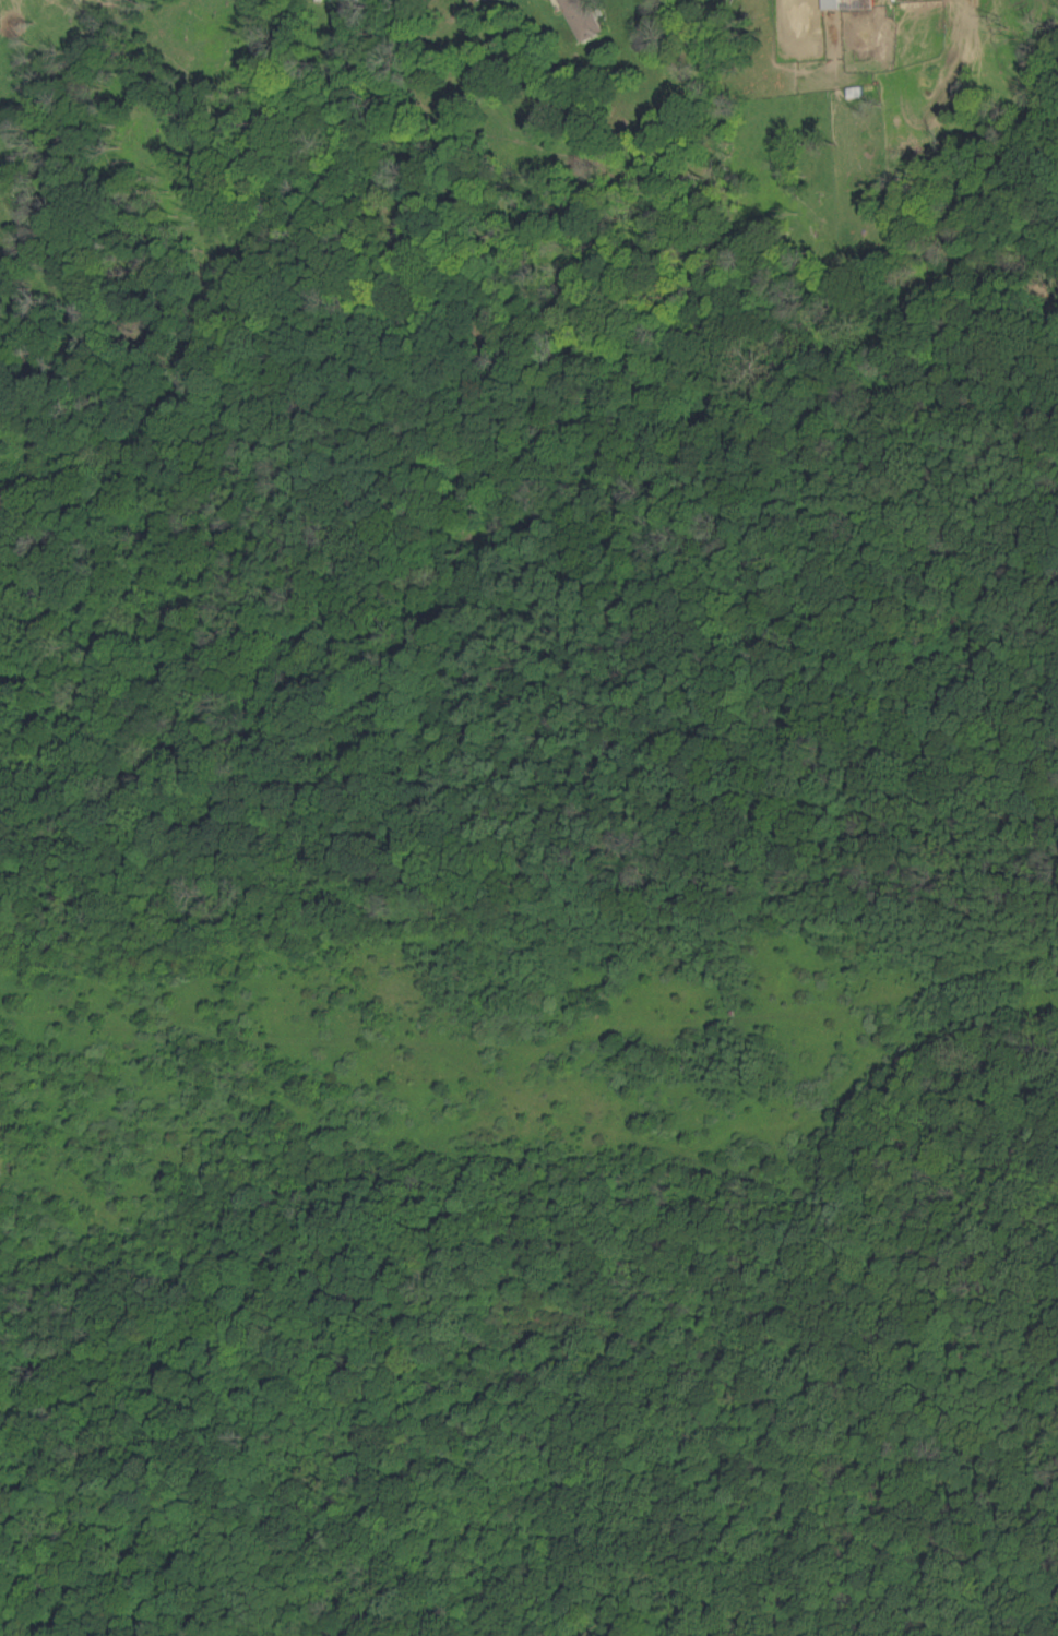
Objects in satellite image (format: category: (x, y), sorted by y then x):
building: (495, 0)
building: (851, 4)
building: (583, 20)

